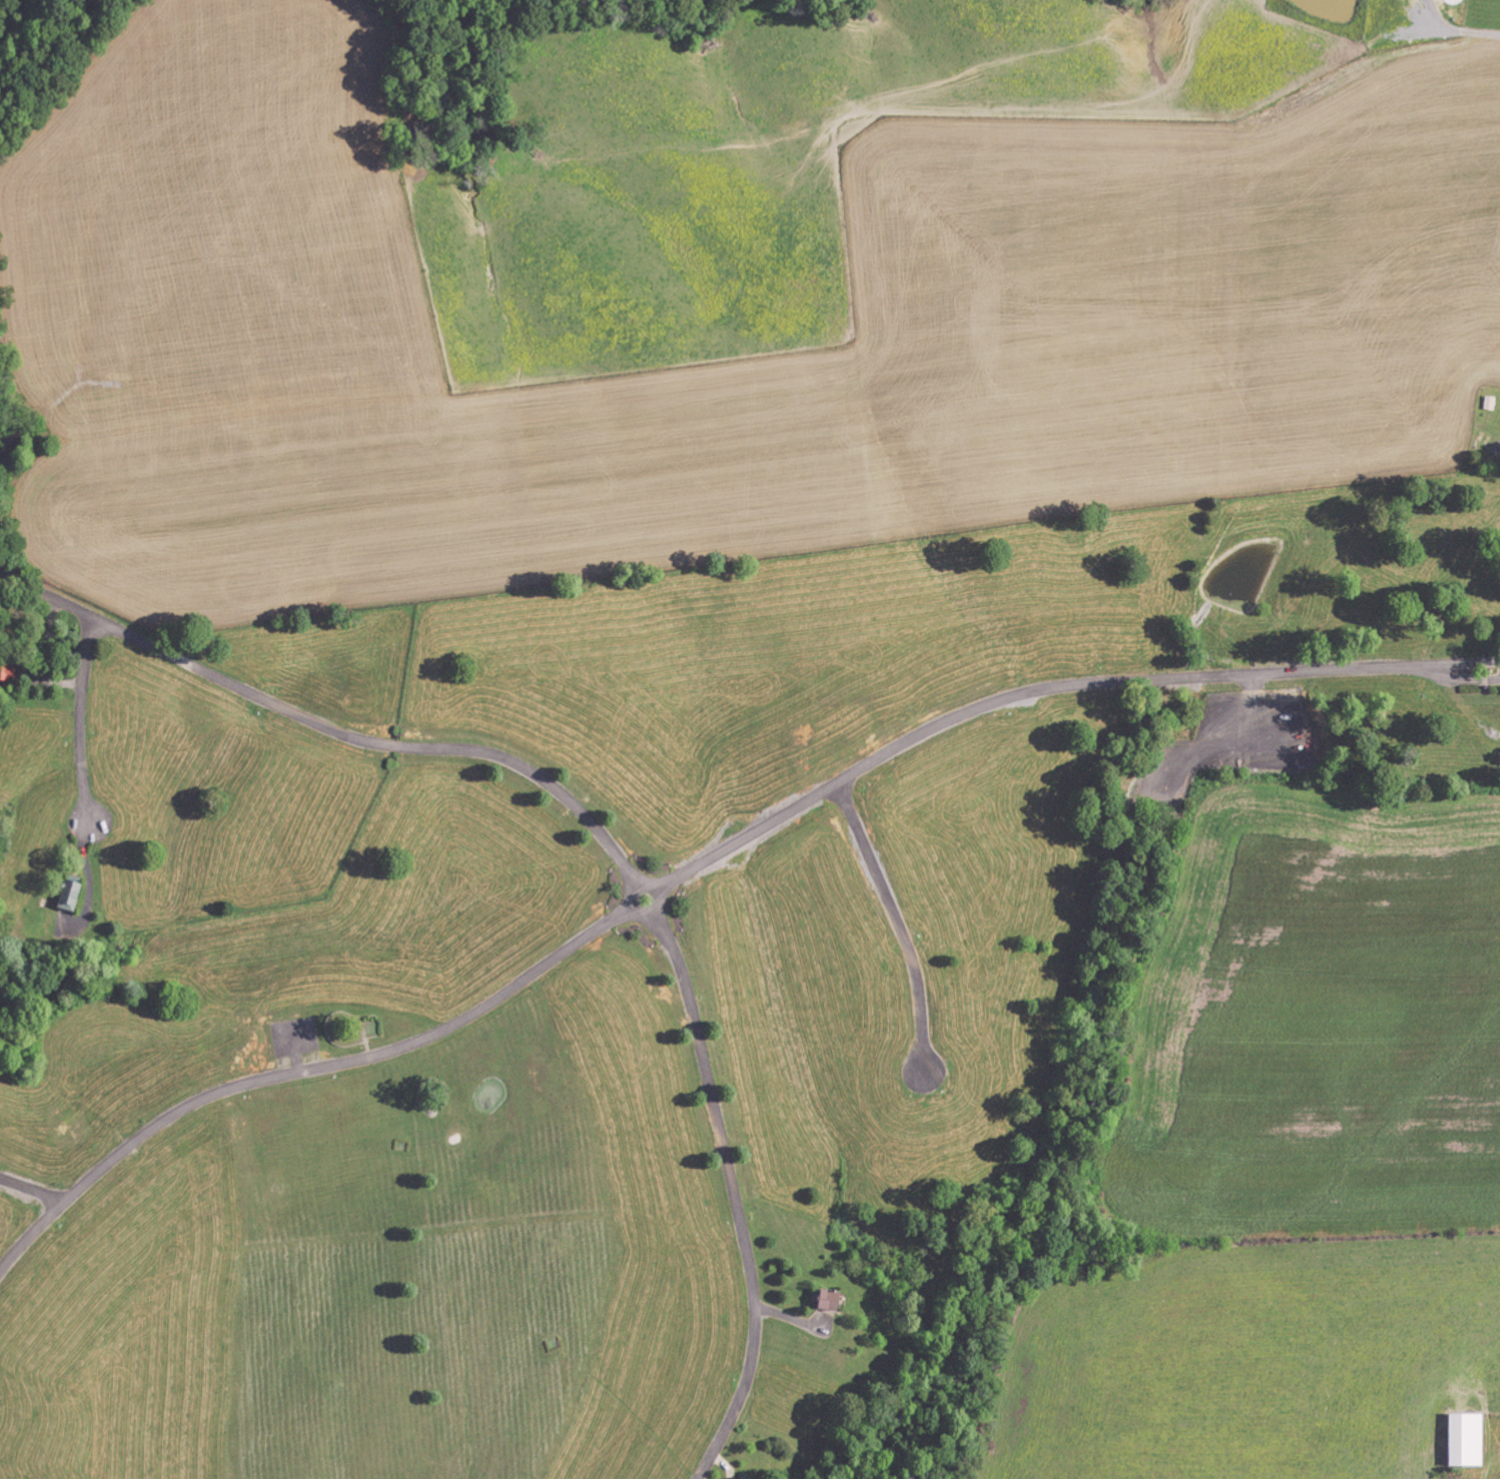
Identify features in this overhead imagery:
road: (77, 713)
road: (334, 729)
road: (708, 854)
building: (66, 895)
road: (899, 921)
road: (733, 1184)
road: (32, 1187)
building: (823, 1299)
building: (1462, 1439)
building: (740, 1477)

